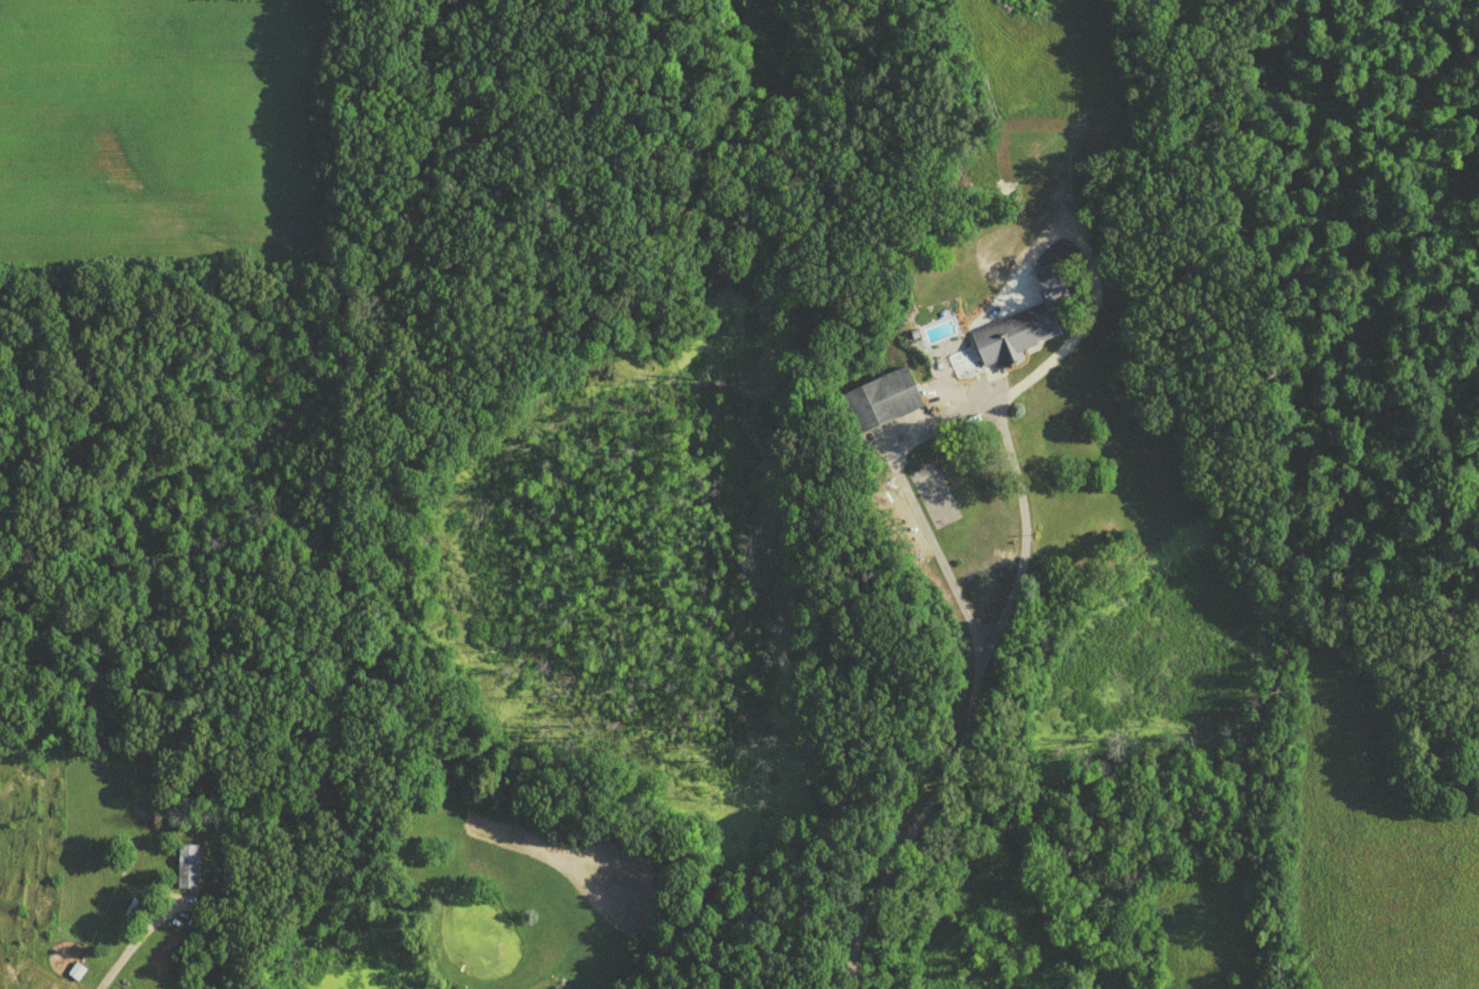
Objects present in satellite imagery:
building: (1009, 342)
building: (881, 405)
road: (1024, 562)
road: (940, 565)
building: (188, 872)
road: (135, 950)

